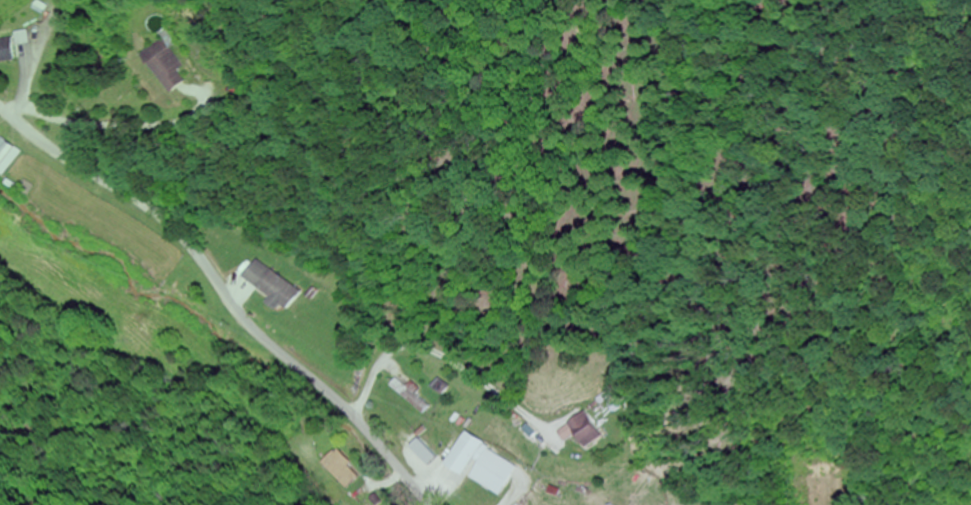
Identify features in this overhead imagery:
road: (46, 42)
building: (7, 53)
building: (166, 67)
road: (2, 114)
building: (270, 285)
road: (227, 291)
road: (580, 352)
building: (408, 397)
building: (582, 432)
building: (479, 462)

